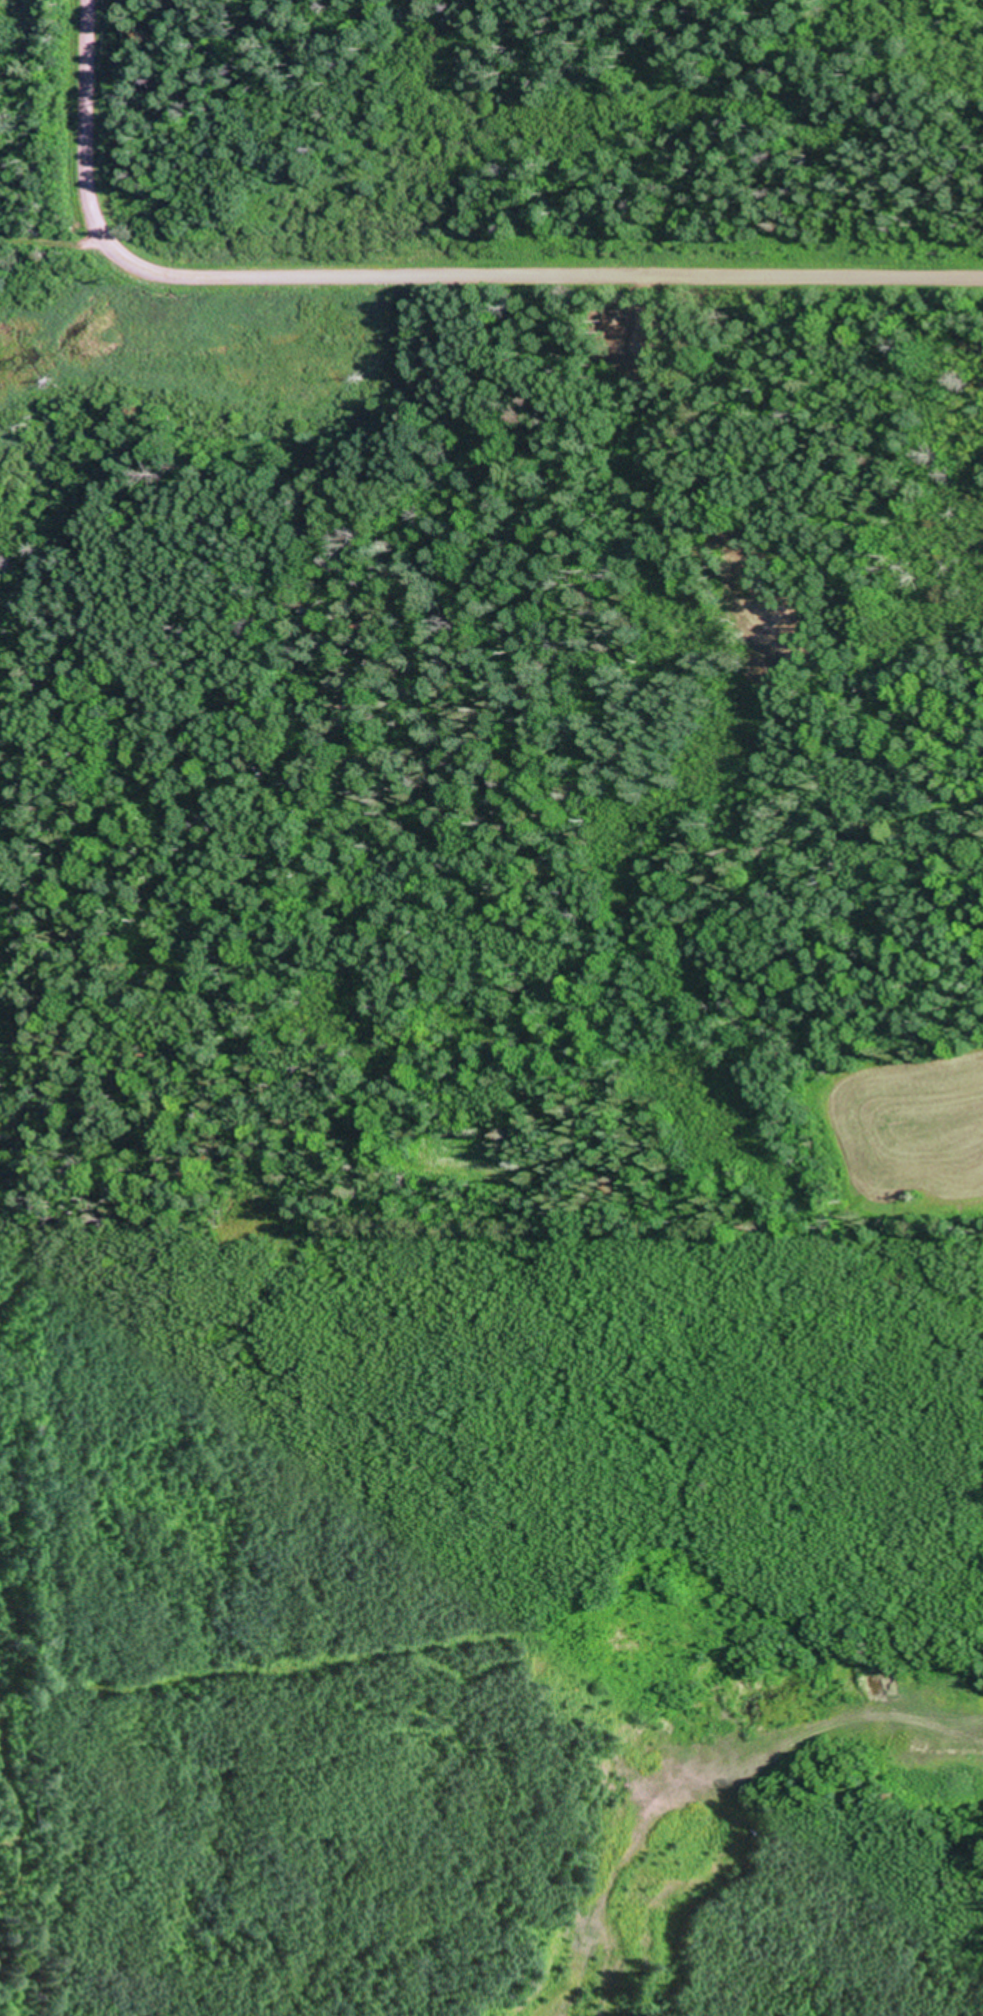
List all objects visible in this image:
road: (58, 227)
road: (430, 280)
road: (769, 1811)

